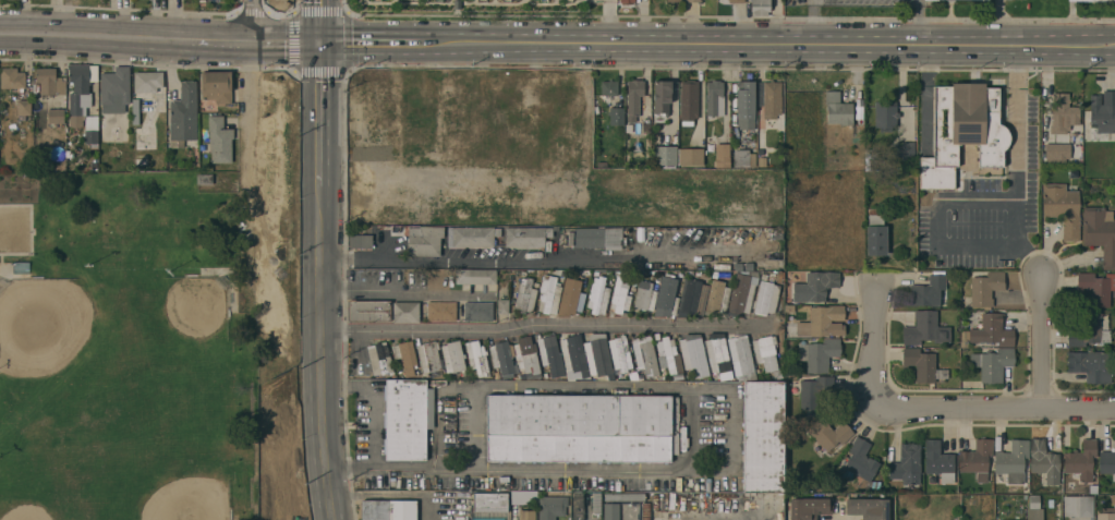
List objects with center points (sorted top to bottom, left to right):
building: (507, 0)
building: (543, 0)
building: (674, 0)
building: (928, 0)
building: (1091, 0)
building: (202, 1)
building: (568, 1)
building: (627, 1)
building: (693, 1)
building: (736, 1)
building: (760, 7)
road: (255, 20)
road: (318, 20)
road: (610, 21)
road: (811, 22)
road: (919, 22)
road: (128, 36)
road: (287, 39)
traffic signals: (319, 40)
road: (353, 40)
road: (751, 44)
building: (11, 77)
building: (50, 81)
building: (147, 81)
building: (216, 85)
building: (609, 87)
building: (114, 88)
building: (557, 89)
building: (689, 95)
building: (633, 98)
building: (714, 98)
building: (769, 98)
building: (662, 99)
building: (82, 104)
road: (250, 104)
building: (746, 104)
building: (941, 104)
building: (23, 106)
building: (456, 106)
building: (559, 108)
building: (837, 109)
building: (135, 111)
building: (1103, 111)
building: (1063, 113)
building: (183, 114)
building: (616, 114)
building: (885, 114)
building: (56, 116)
road: (362, 116)
building: (395, 117)
building: (518, 118)
building: (486, 119)
building: (421, 121)
road: (586, 121)
building: (1004, 123)
building: (1032, 135)
building: (218, 141)
building: (905, 149)
road: (319, 150)
building: (1057, 153)
building: (413, 154)
building: (723, 155)
building: (665, 156)
building: (690, 156)
building: (740, 157)
building: (1033, 168)
building: (204, 179)
building: (1063, 208)
building: (482, 211)
building: (391, 213)
building: (1100, 232)
building: (875, 233)
building: (472, 235)
building: (526, 235)
building: (596, 238)
building: (424, 240)
building: (361, 241)
road: (1011, 253)
road: (533, 262)
building: (477, 276)
building: (815, 286)
building: (1096, 287)
building: (985, 289)
building: (743, 291)
building: (928, 291)
building: (620, 293)
building: (549, 294)
road: (399, 295)
building: (525, 295)
building: (598, 295)
building: (645, 295)
building: (693, 295)
building: (571, 297)
building: (667, 297)
building: (717, 297)
building: (766, 297)
building: (501, 306)
building: (368, 310)
building: (441, 311)
building: (478, 311)
building: (405, 312)
building: (823, 322)
park: (45, 324)
road: (536, 327)
building: (925, 328)
building: (1091, 329)
building: (992, 331)
road: (1040, 342)
road: (869, 346)
park: (124, 351)
building: (549, 352)
building: (620, 352)
building: (741, 352)
building: (765, 352)
building: (668, 353)
building: (717, 353)
building: (820, 353)
building: (524, 354)
building: (573, 354)
building: (645, 354)
building: (598, 355)
building: (693, 355)
building: (405, 356)
building: (428, 356)
building: (452, 356)
building: (501, 356)
building: (477, 358)
building: (379, 359)
building: (993, 363)
building: (922, 365)
building: (1091, 365)
road: (320, 390)
building: (814, 390)
road: (376, 398)
road: (991, 408)
building: (408, 419)
building: (582, 427)
building: (829, 433)
building: (763, 436)
building: (977, 458)
building: (1081, 460)
building: (938, 461)
building: (1013, 461)
building: (861, 462)
building: (1044, 462)
building: (1106, 462)
road: (739, 463)
building: (907, 464)
park: (185, 491)
building: (623, 496)
building: (523, 497)
building: (490, 505)
building: (578, 506)
building: (1078, 506)
building: (552, 507)
building: (809, 508)
building: (868, 508)
building: (1034, 508)
building: (388, 510)
building: (610, 511)
building: (1105, 513)
building: (526, 515)

